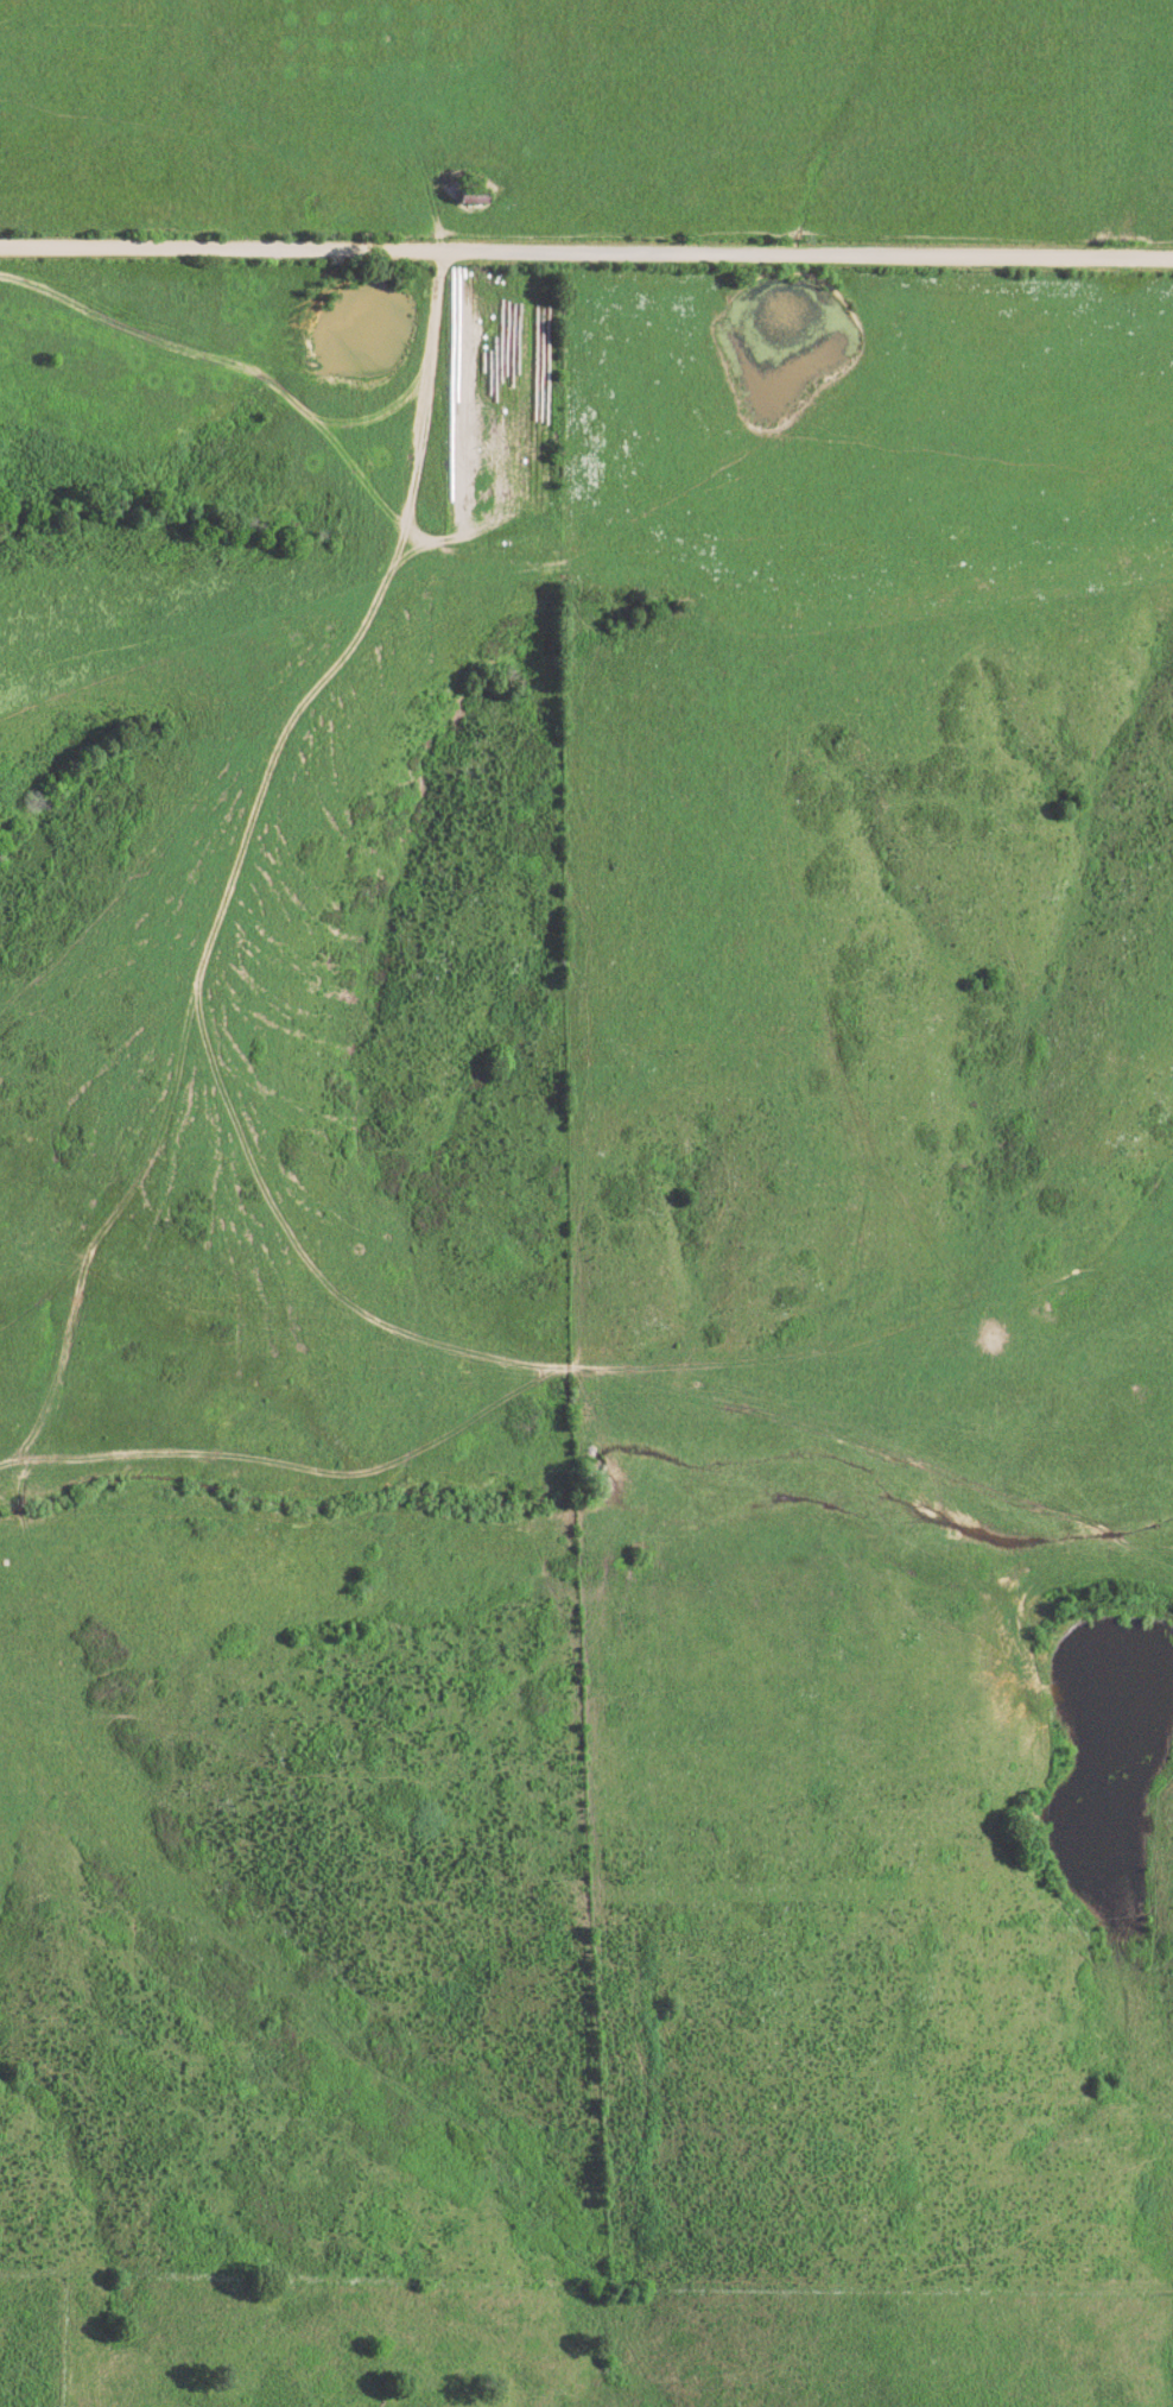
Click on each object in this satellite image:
road: (586, 254)

